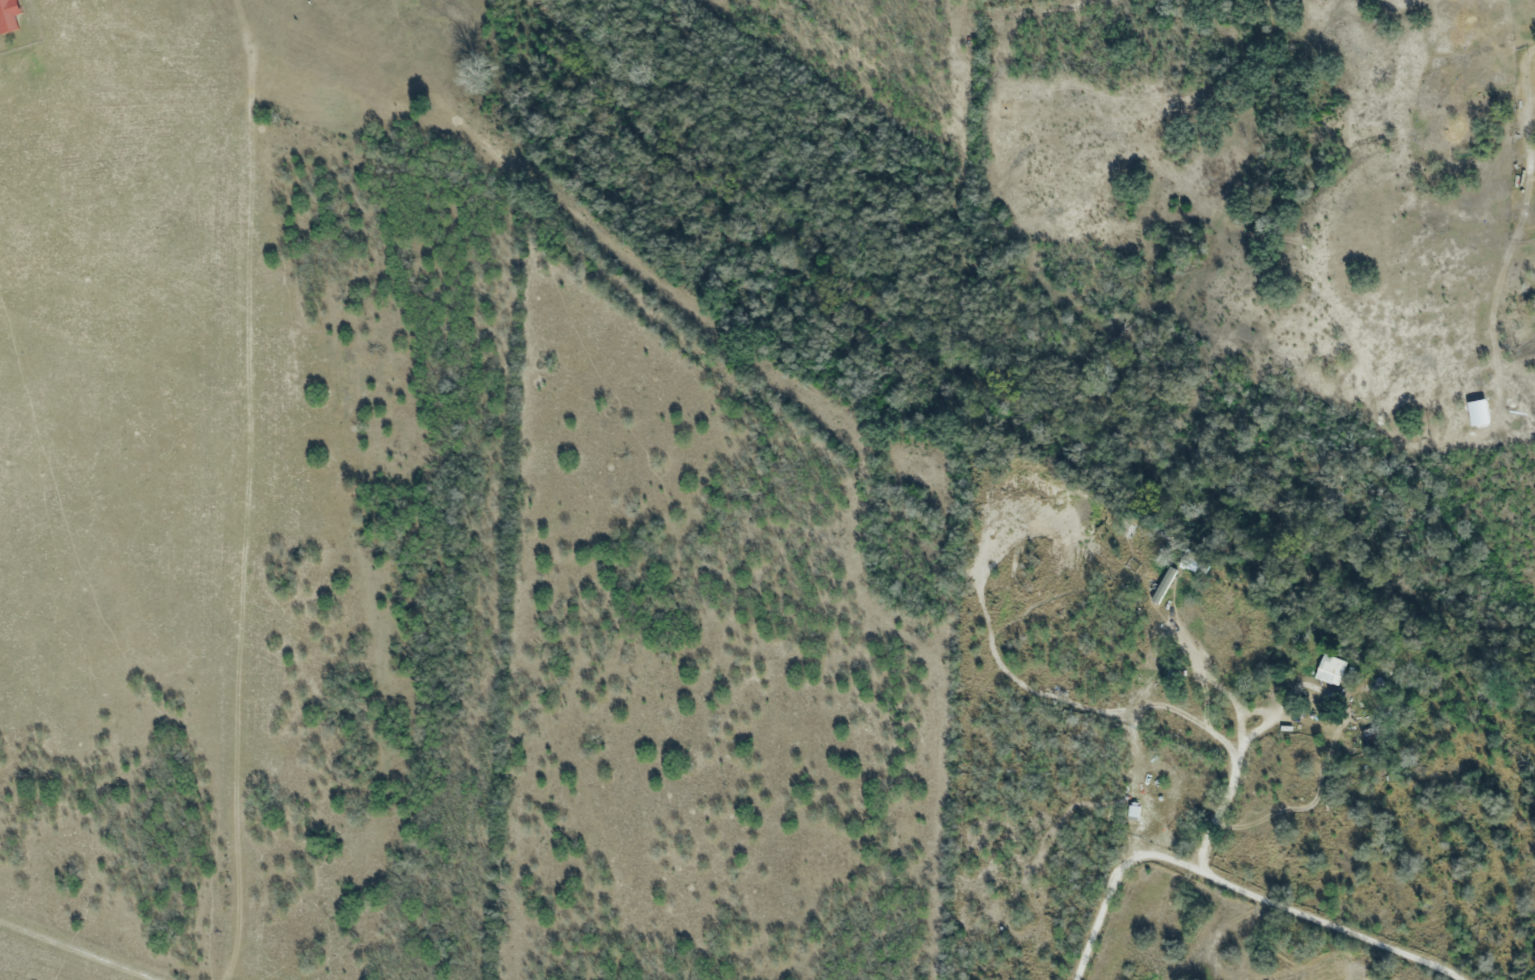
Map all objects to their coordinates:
building: (8, 15)
building: (1330, 668)
road: (1235, 887)
road: (80, 950)

